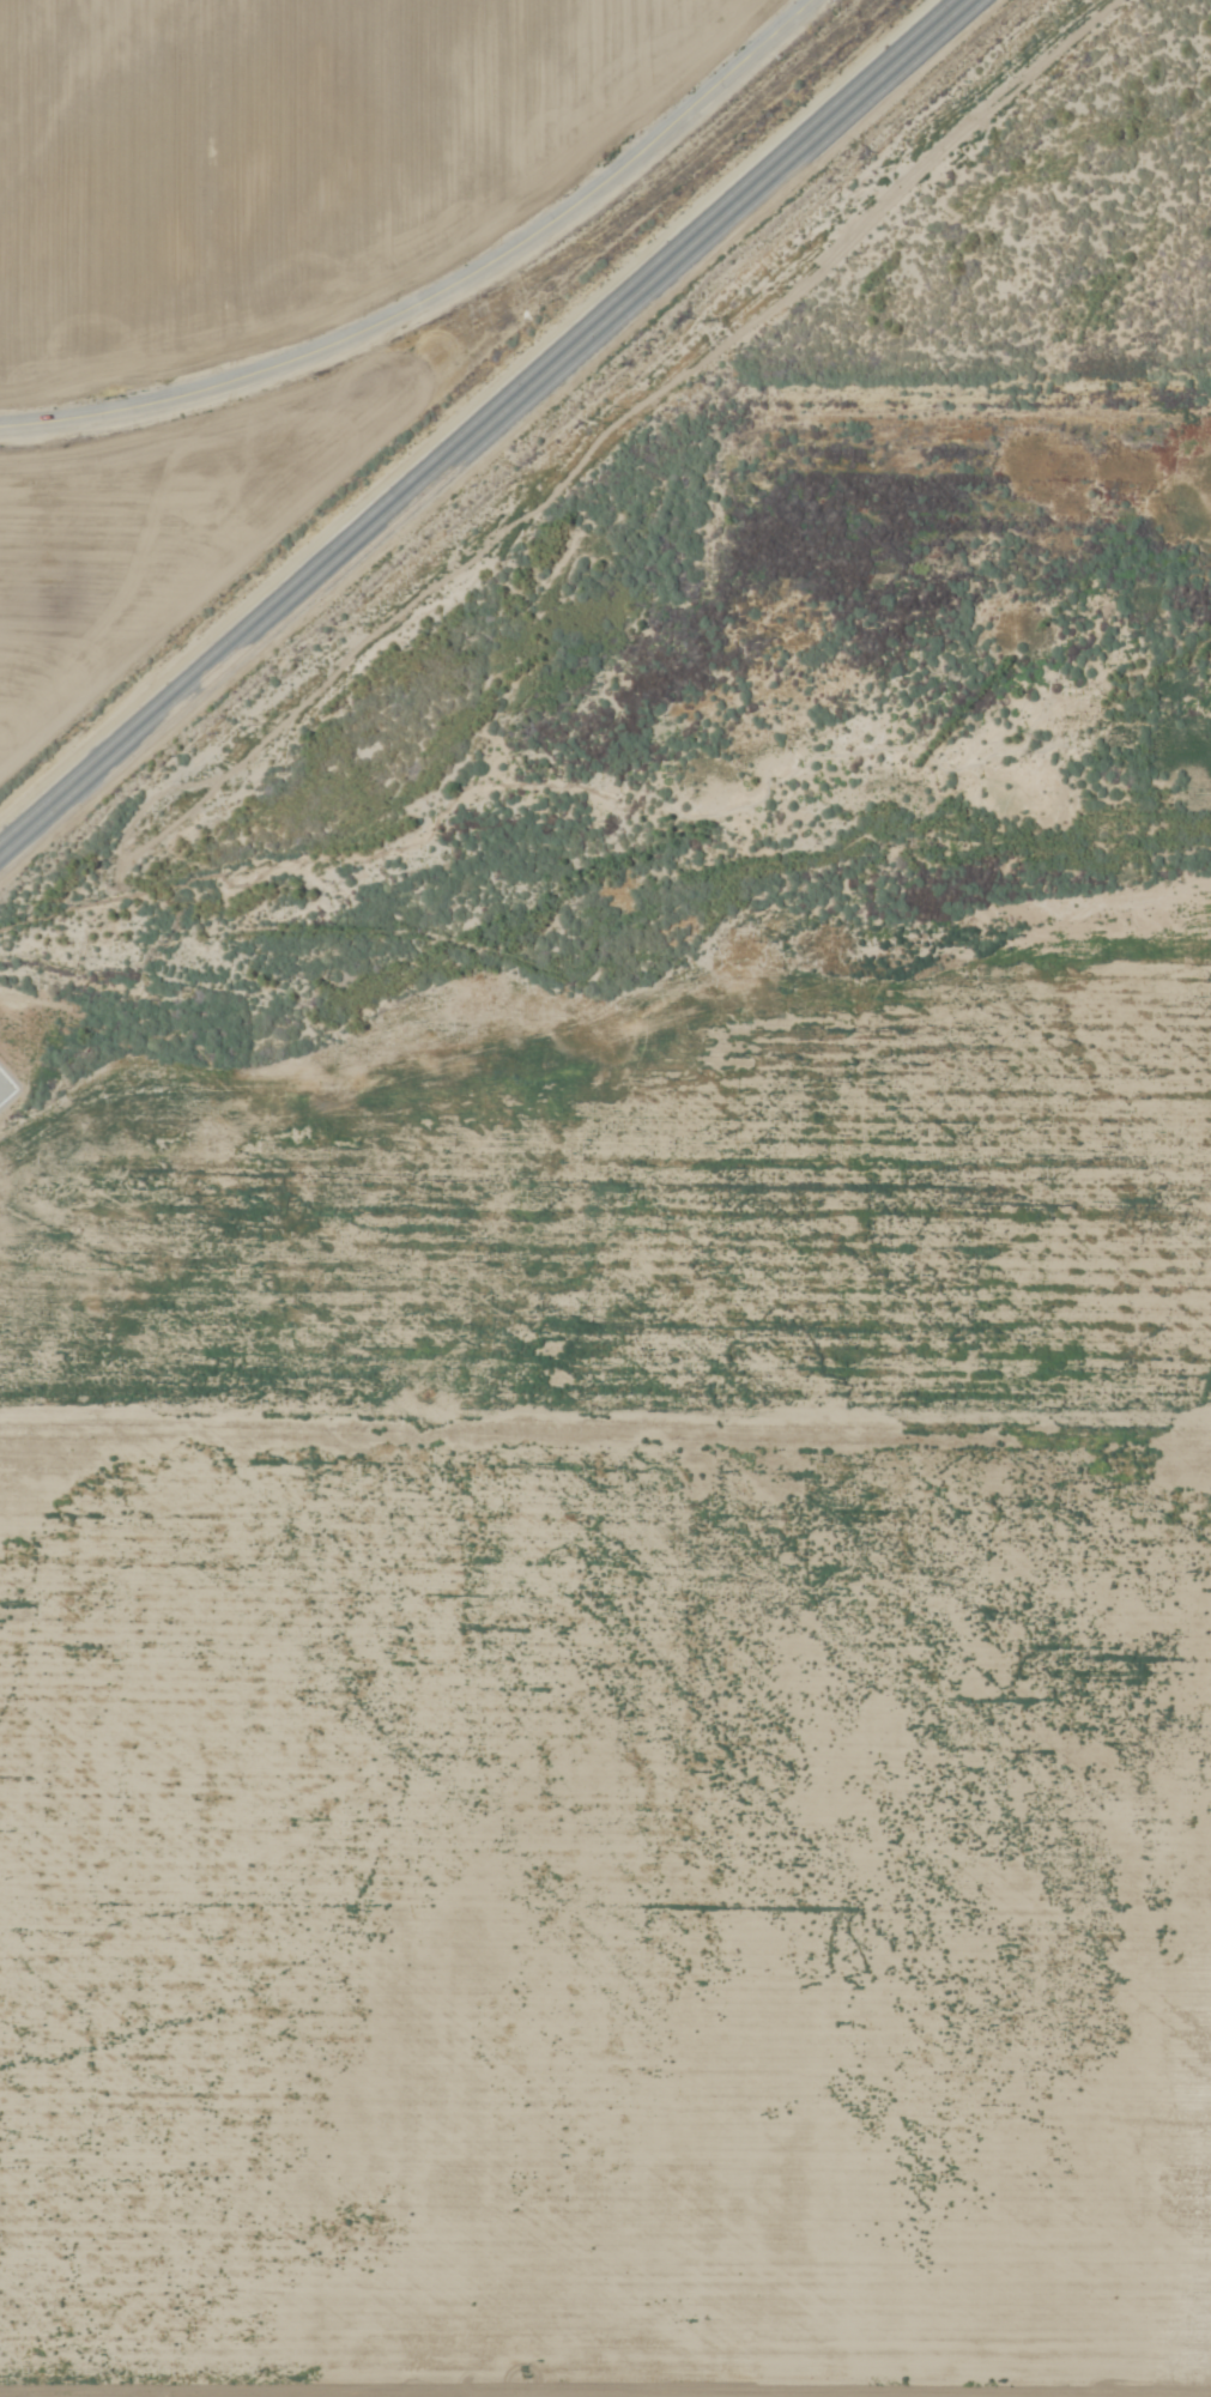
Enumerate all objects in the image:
road: (444, 289)
railway: (465, 413)
railway: (477, 422)
railway: (485, 430)
crop: (604, 1884)

